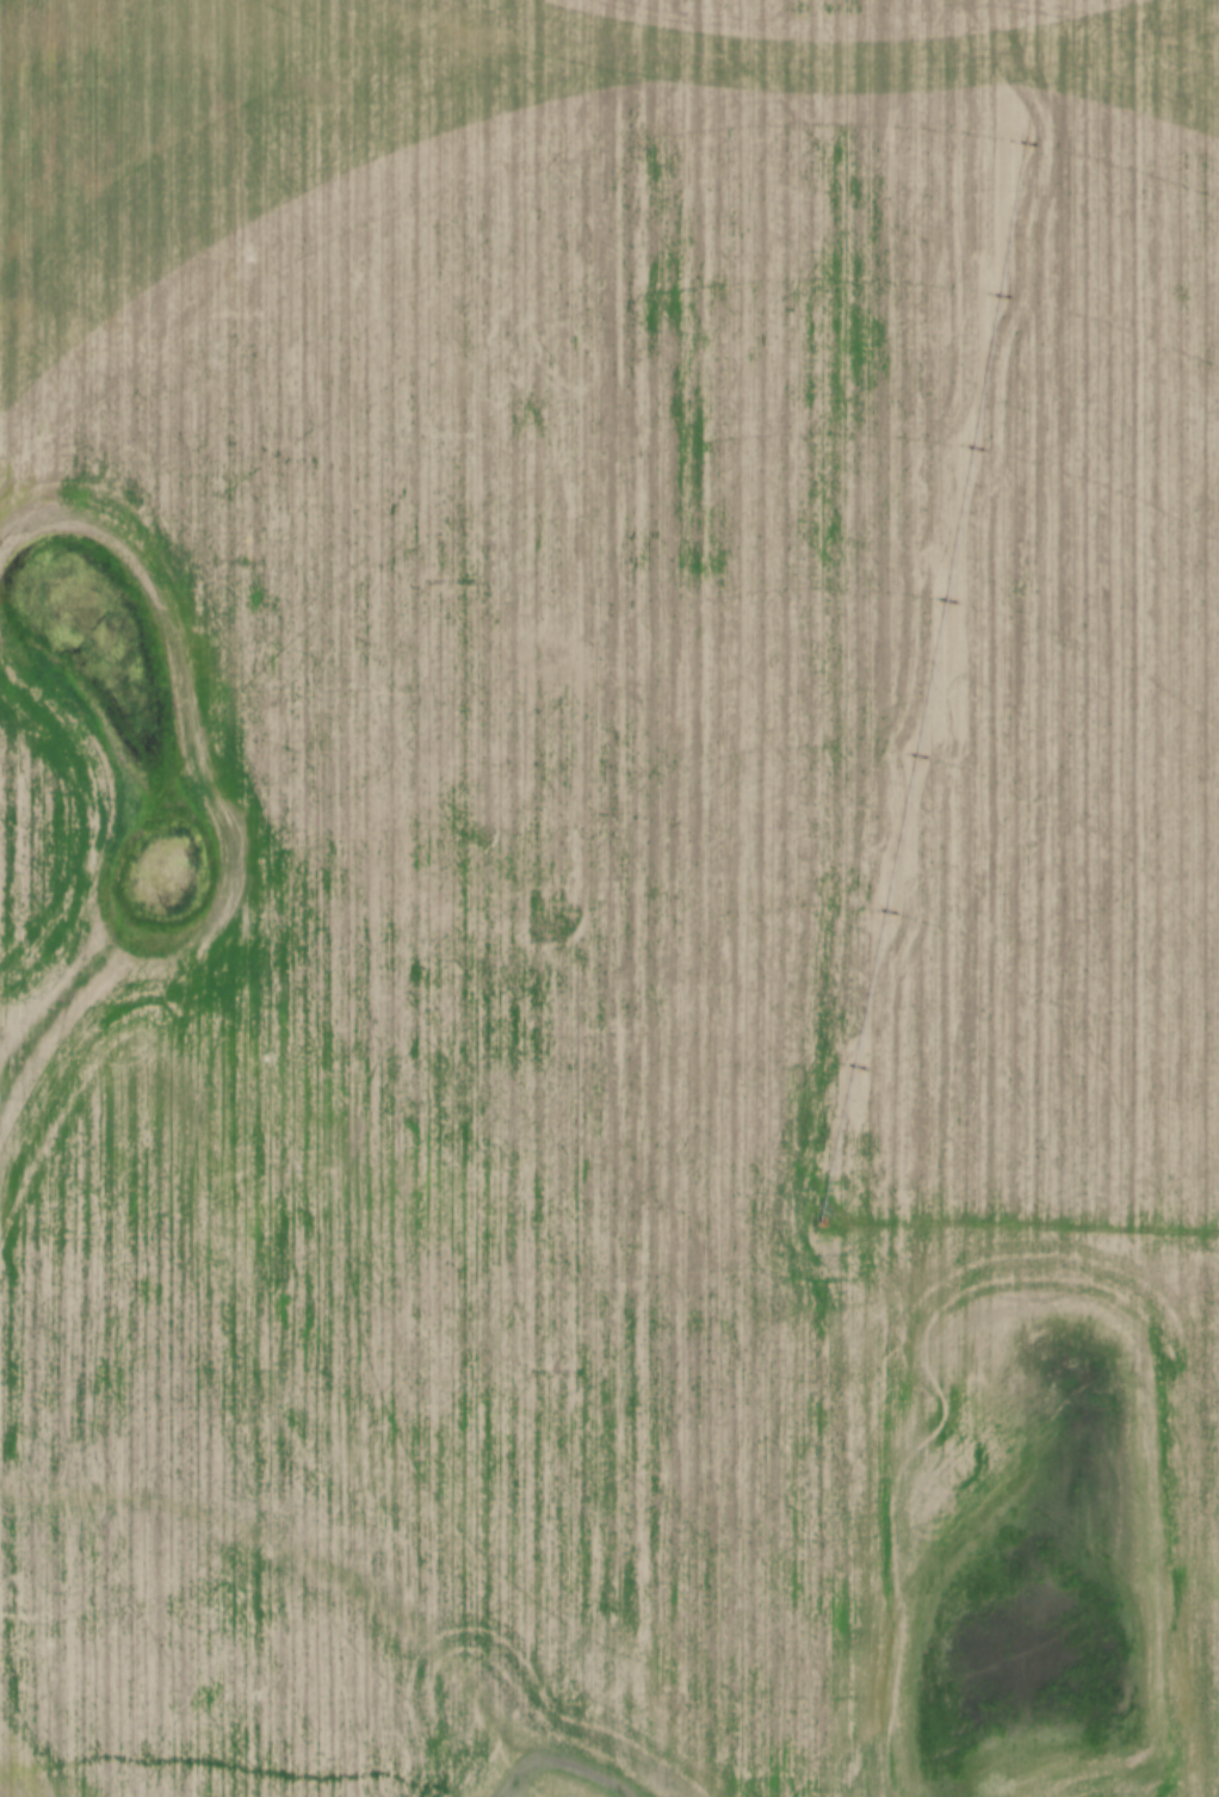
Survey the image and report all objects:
road: (875, 1338)

